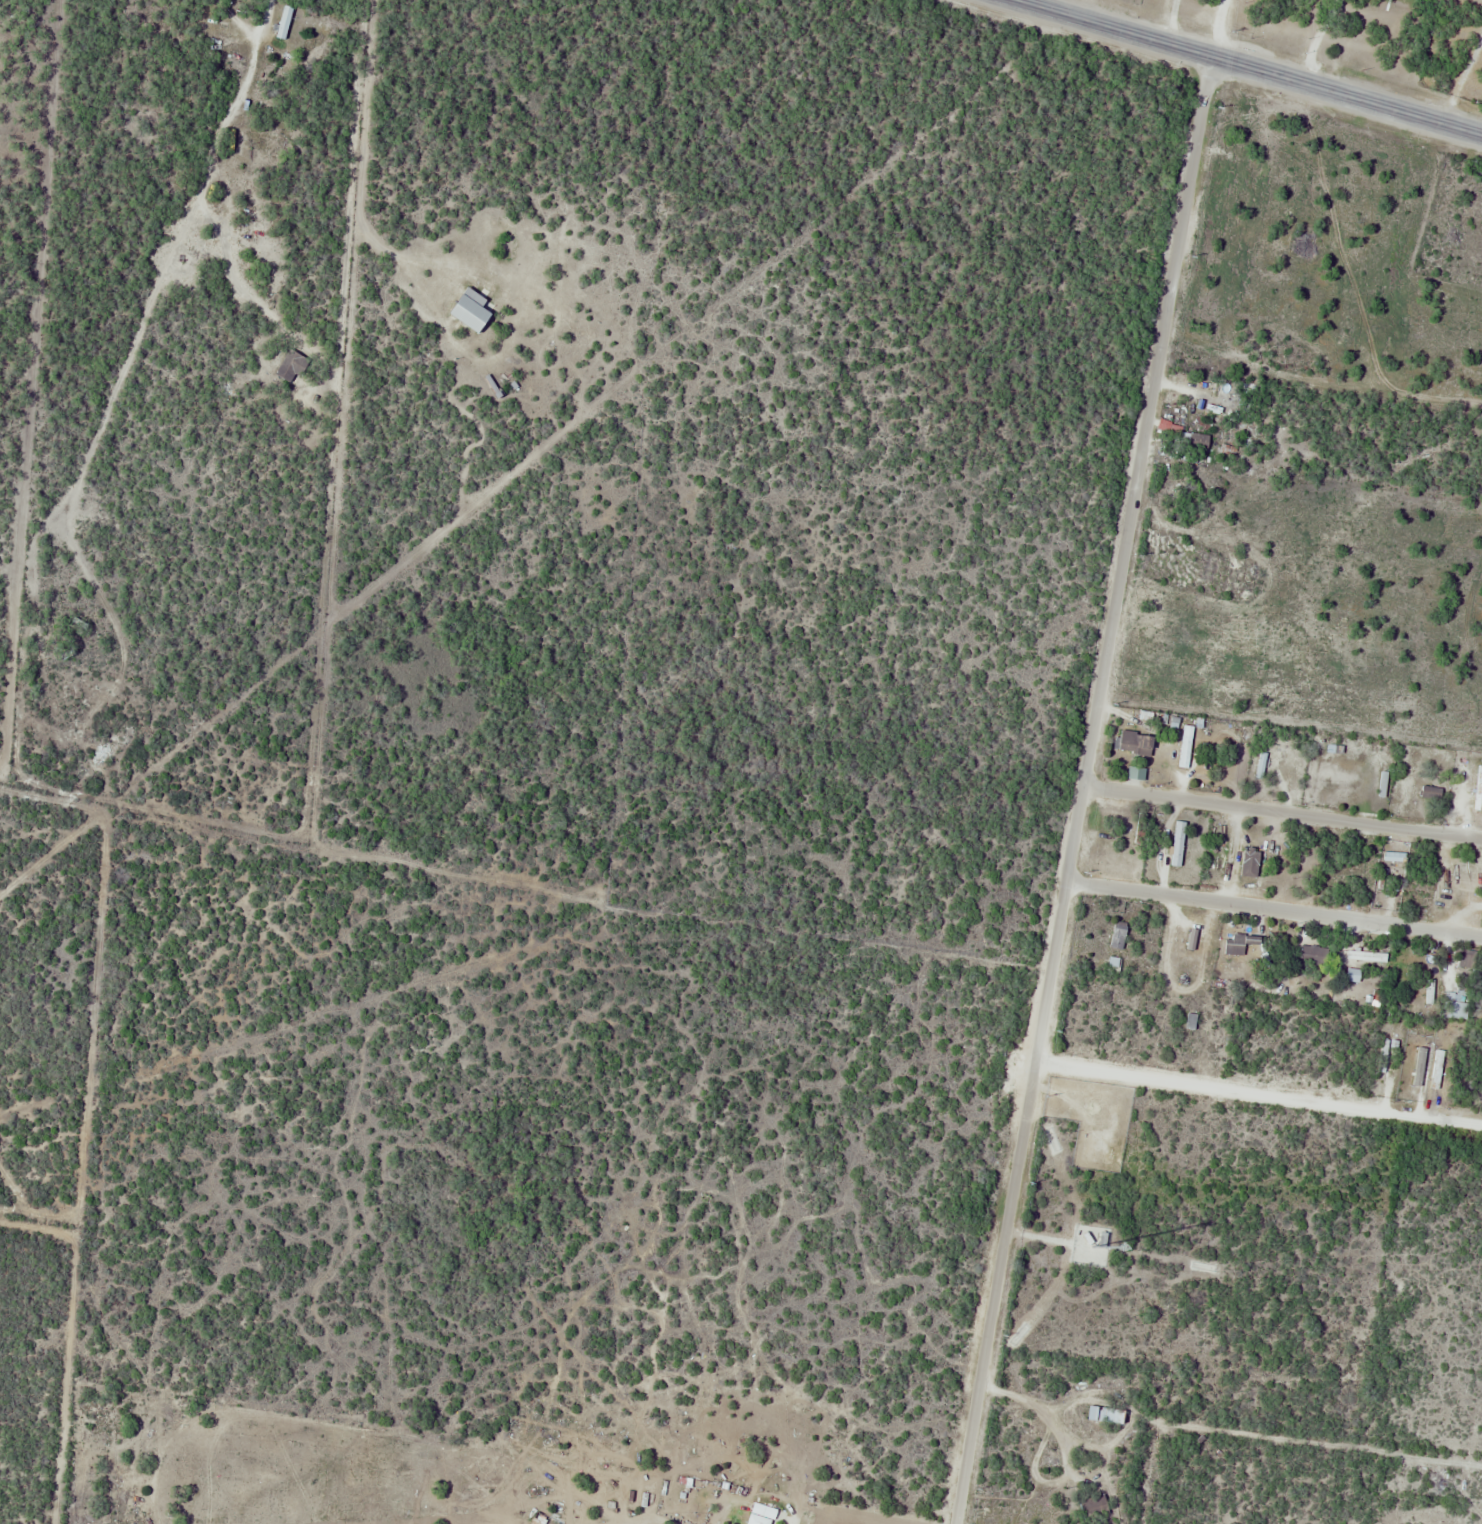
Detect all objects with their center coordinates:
building: (284, 23)
road: (251, 59)
road: (1250, 67)
building: (472, 310)
building: (291, 367)
building: (1191, 440)
building: (1135, 743)
building: (1185, 747)
road: (1084, 790)
building: (1479, 790)
building: (1431, 793)
road: (1283, 812)
building: (1178, 844)
building: (1250, 863)
road: (1275, 909)
building: (1118, 936)
building: (1234, 945)
building: (1313, 957)
building: (1456, 1006)
building: (1383, 1056)
building: (1407, 1092)
road: (1259, 1094)
building: (1106, 1415)
building: (1090, 1509)
building: (765, 1515)
building: (544, 1521)

